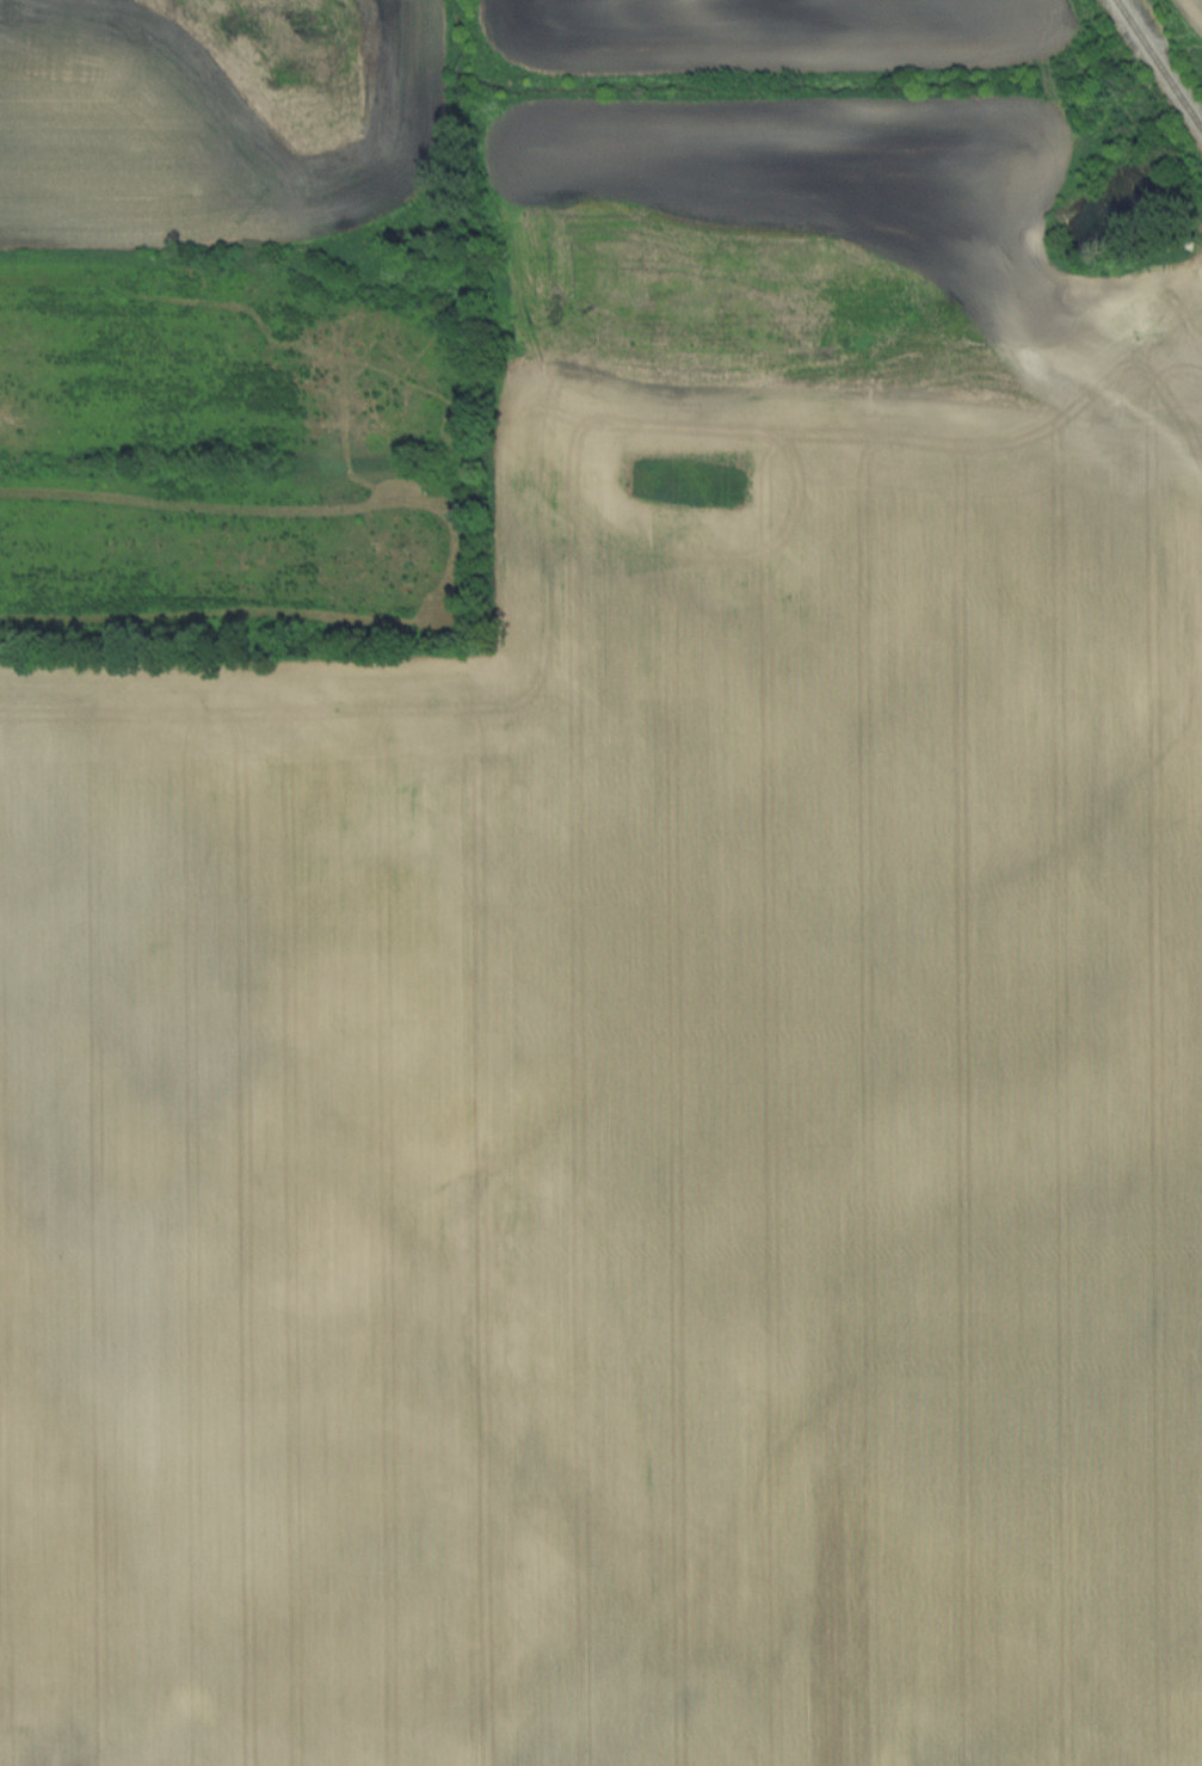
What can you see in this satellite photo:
railway: (1161, 61)

